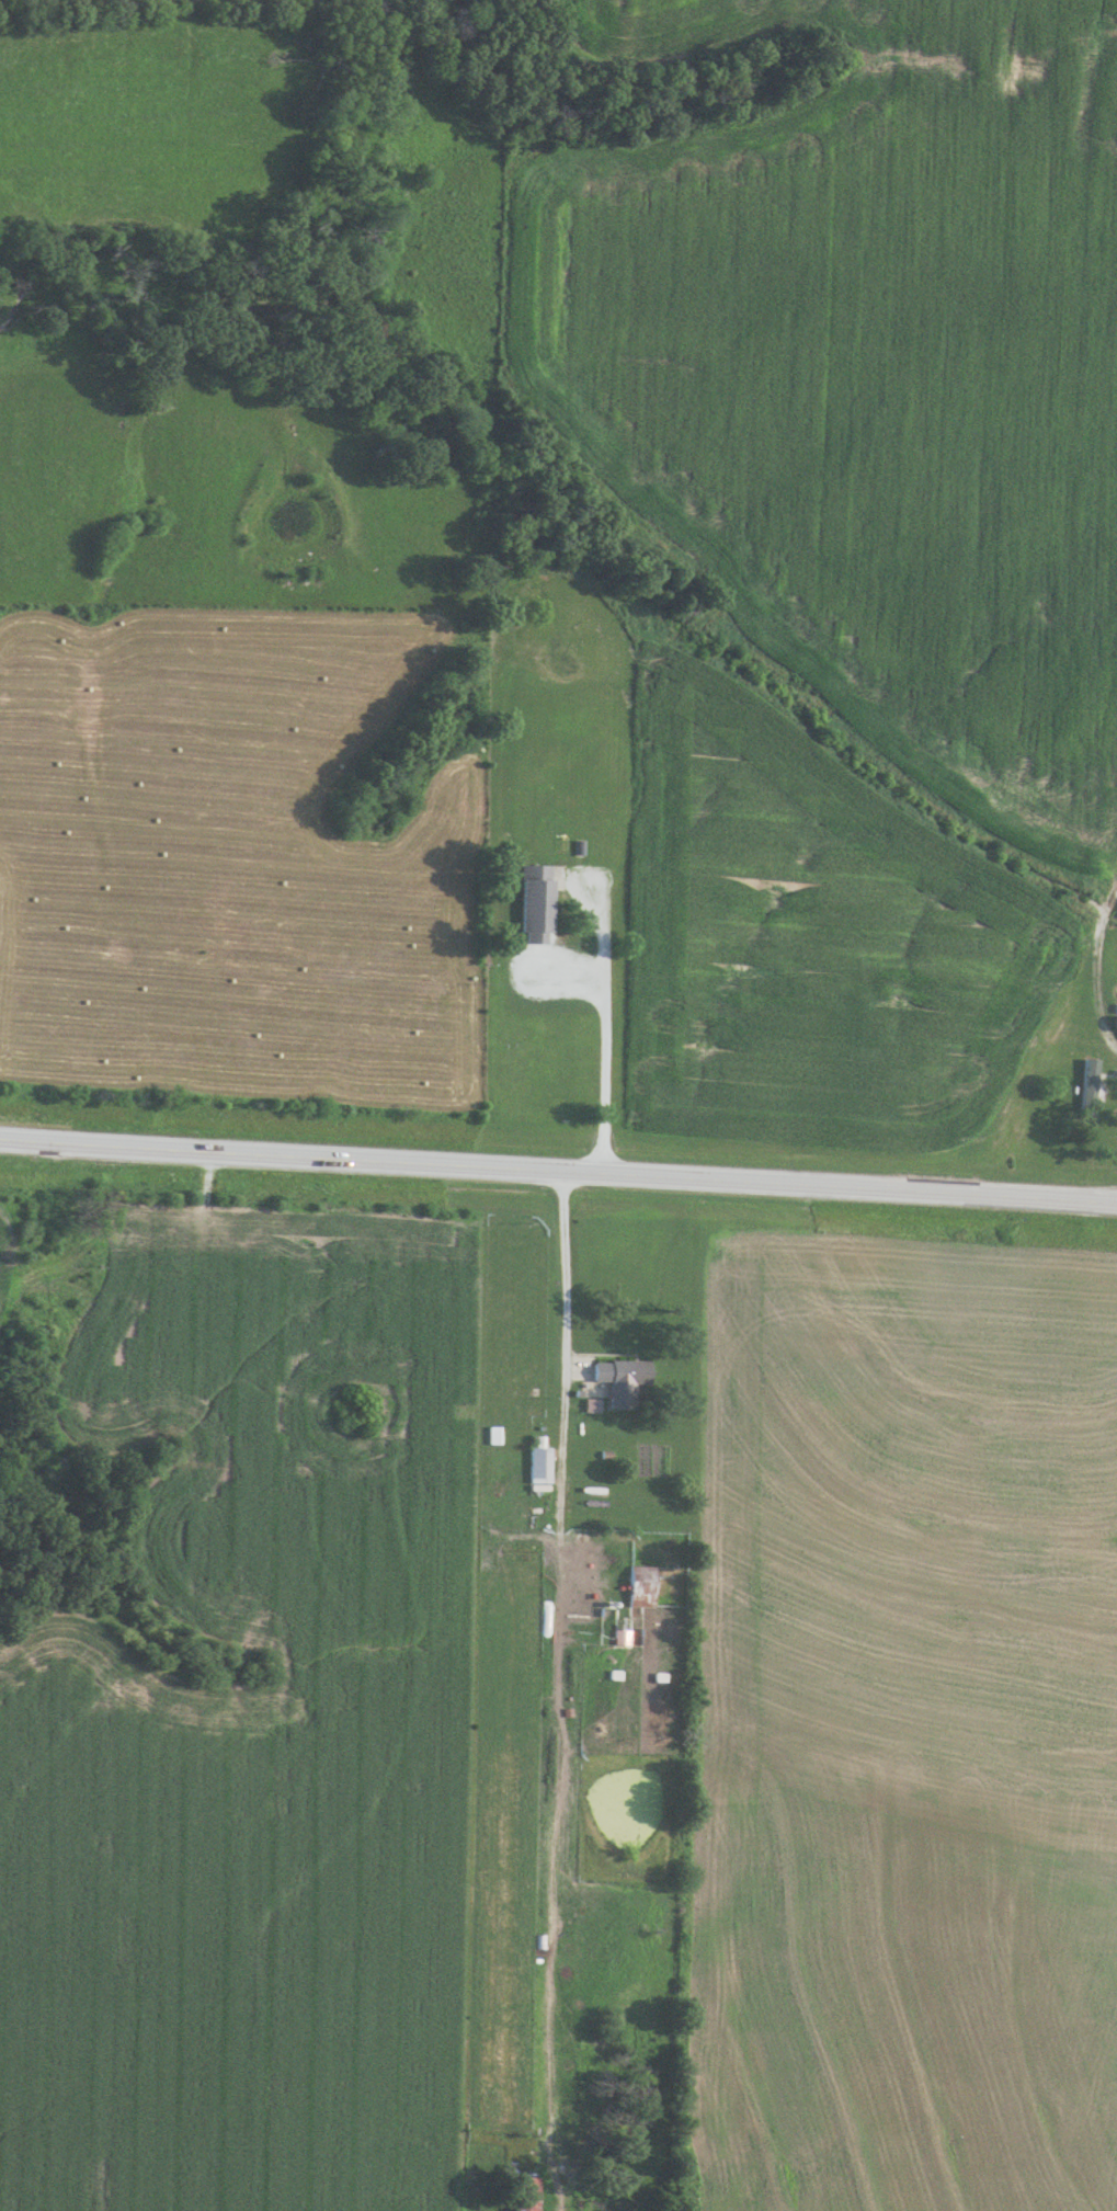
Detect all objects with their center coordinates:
building: (534, 902)
road: (604, 1004)
building: (1086, 1086)
road: (558, 1173)
building: (619, 1382)
building: (635, 1586)
road: (550, 1688)
building: (523, 2193)

